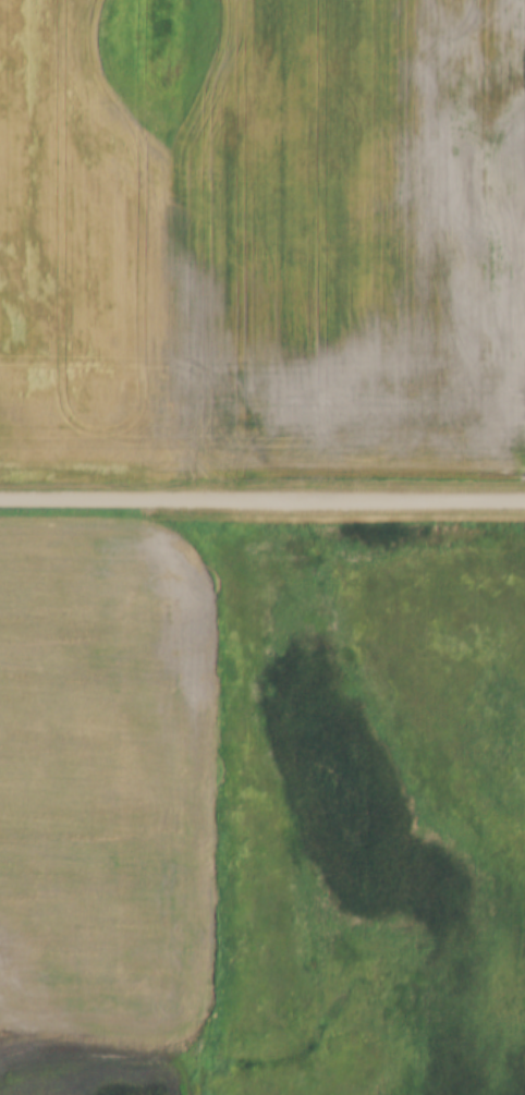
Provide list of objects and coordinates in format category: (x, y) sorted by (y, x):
road: (262, 499)

